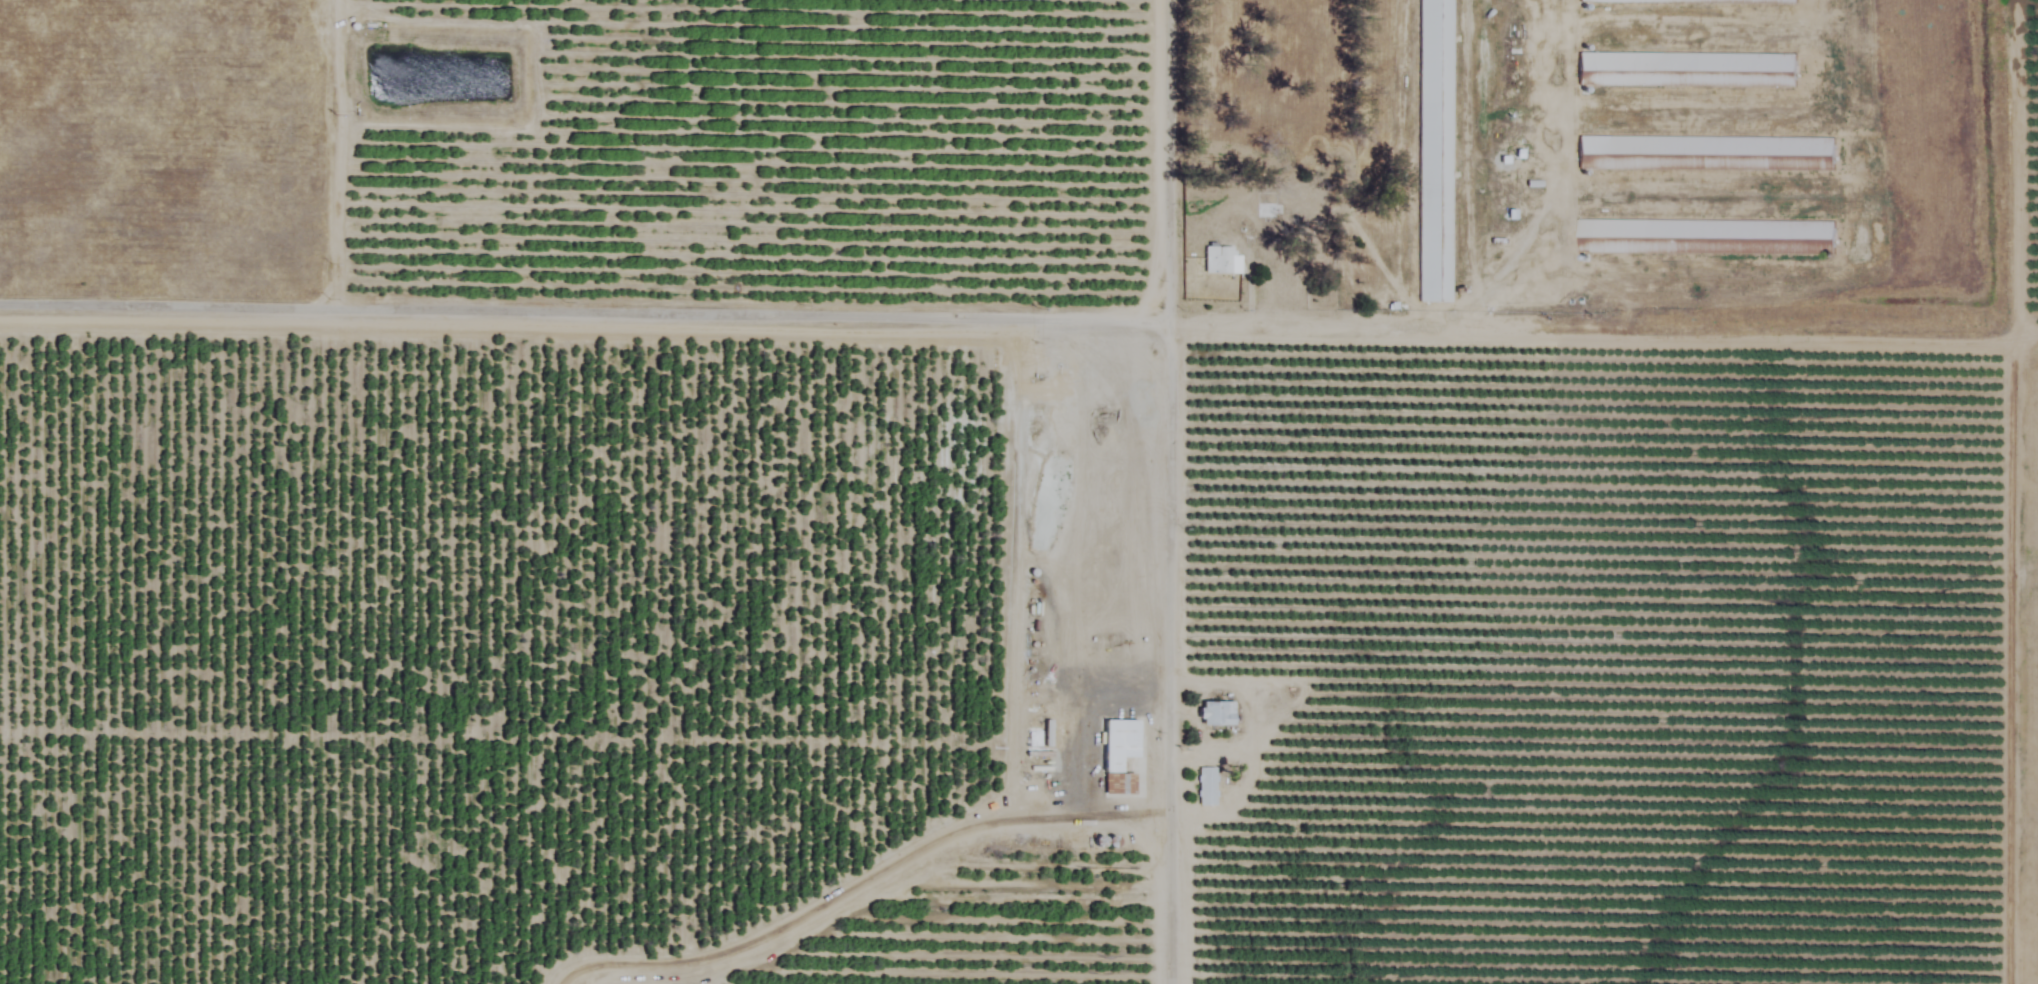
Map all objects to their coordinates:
building: (1689, 1)
crop: (2037, 30)
building: (1686, 70)
building: (1435, 151)
building: (1705, 154)
building: (1514, 168)
building: (1266, 213)
building: (1705, 237)
building: (1221, 261)
building: (1278, 284)
road: (790, 326)
road: (1159, 492)
crop: (957, 570)
building: (1216, 714)
building: (1119, 755)
building: (1207, 787)
road: (862, 883)

